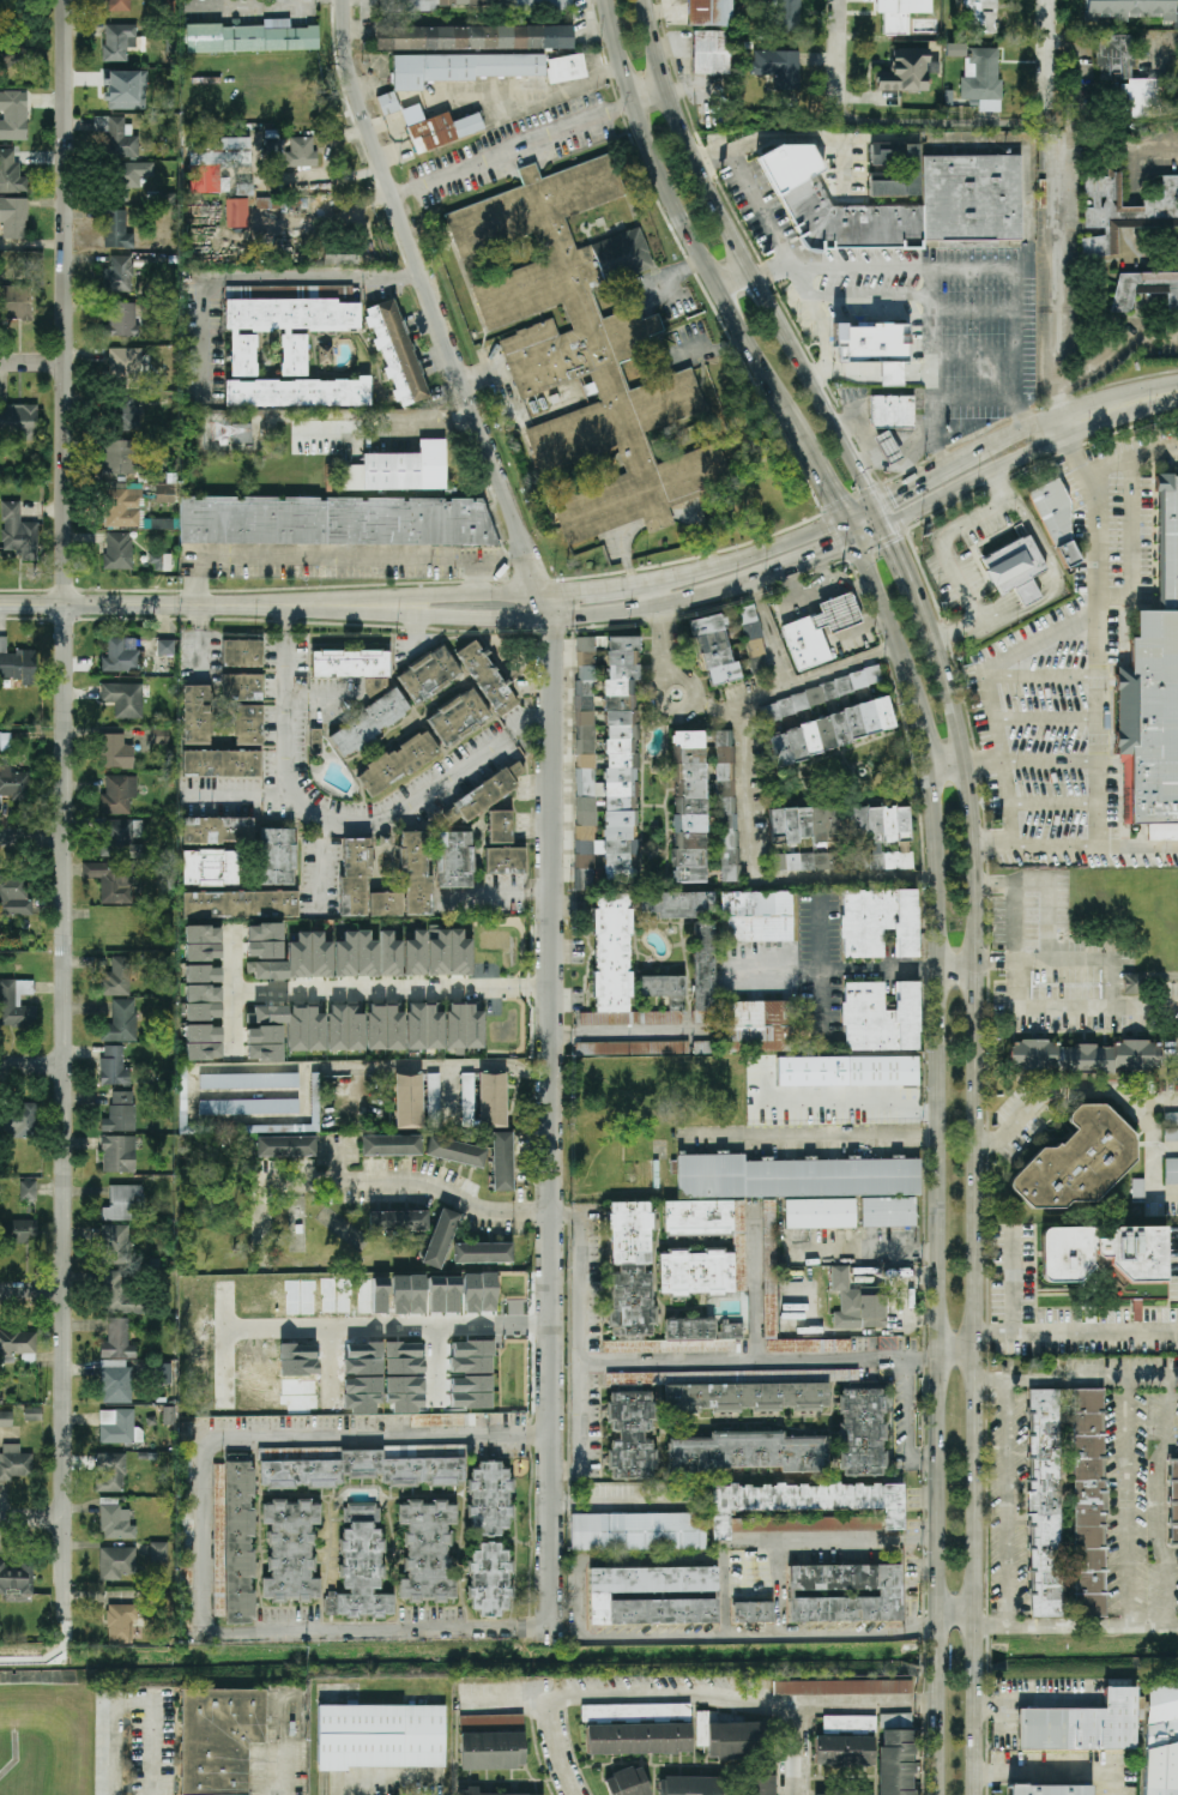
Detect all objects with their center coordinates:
building: (503, 4)
building: (119, 5)
building: (411, 5)
building: (1129, 10)
building: (709, 12)
building: (899, 14)
building: (977, 14)
building: (789, 16)
road: (591, 25)
building: (250, 37)
building: (473, 37)
building: (120, 42)
building: (955, 50)
building: (13, 52)
road: (1047, 52)
building: (711, 53)
road: (839, 55)
building: (778, 67)
building: (463, 68)
building: (566, 68)
building: (906, 71)
building: (1126, 78)
building: (983, 79)
building: (126, 90)
road: (556, 94)
road: (650, 95)
building: (387, 103)
building: (13, 115)
road: (946, 122)
building: (437, 128)
building: (117, 137)
road: (787, 140)
road: (1154, 147)
road: (512, 149)
building: (274, 152)
building: (301, 152)
building: (215, 161)
building: (11, 173)
building: (134, 174)
building: (963, 197)
building: (296, 206)
building: (1125, 210)
building: (237, 213)
building: (13, 217)
building: (116, 230)
building: (338, 255)
road: (744, 259)
road: (708, 265)
road: (851, 270)
road: (769, 271)
building: (117, 275)
road: (266, 276)
road: (663, 276)
road: (733, 277)
building: (1144, 288)
building: (16, 302)
road: (809, 303)
road: (974, 308)
road: (928, 313)
building: (121, 320)
building: (283, 323)
road: (656, 324)
building: (582, 348)
building: (874, 348)
road: (696, 349)
road: (1114, 350)
building: (395, 353)
road: (34, 360)
building: (125, 363)
road: (833, 365)
road: (1021, 374)
road: (1058, 387)
building: (297, 392)
road: (1117, 410)
building: (892, 411)
building: (128, 416)
road: (936, 420)
building: (18, 421)
road: (409, 421)
building: (241, 433)
road: (865, 435)
road: (1011, 435)
building: (886, 446)
road: (1134, 454)
building: (122, 458)
road: (904, 462)
building: (399, 470)
road: (912, 472)
road: (923, 481)
road: (977, 483)
building: (167, 487)
traffic signals: (878, 505)
building: (122, 507)
road: (862, 512)
road: (884, 518)
traffic signals: (845, 519)
building: (336, 520)
building: (1056, 524)
building: (18, 531)
traffic signals: (890, 532)
road: (874, 538)
road: (1131, 541)
traffic signals: (857, 544)
building: (1167, 546)
building: (117, 550)
road: (342, 555)
road: (742, 556)
road: (818, 558)
road: (948, 559)
building: (159, 562)
road: (901, 564)
building: (1014, 568)
road: (1052, 573)
road: (475, 574)
road: (592, 586)
road: (418, 594)
road: (144, 606)
road: (537, 616)
road: (289, 619)
road: (667, 625)
building: (750, 631)
building: (818, 631)
road: (771, 634)
road: (1049, 637)
building: (165, 647)
building: (714, 651)
building: (242, 653)
building: (121, 655)
building: (16, 664)
building: (350, 664)
building: (759, 664)
building: (457, 676)
road: (1049, 676)
parking lot: (1069, 676)
road: (696, 685)
road: (796, 685)
fountain: (677, 697)
building: (122, 698)
building: (244, 706)
building: (768, 711)
building: (197, 715)
building: (458, 717)
road: (999, 718)
road: (1051, 718)
building: (1148, 719)
road: (1101, 721)
building: (369, 723)
road: (531, 727)
building: (829, 731)
building: (5, 736)
building: (316, 742)
building: (115, 752)
road: (1055, 761)
building: (397, 763)
building: (221, 764)
road: (986, 765)
road: (948, 770)
building: (14, 782)
building: (117, 795)
road: (550, 796)
building: (481, 797)
road: (1013, 802)
road: (1057, 803)
building: (726, 806)
building: (688, 807)
road: (66, 808)
road: (331, 820)
building: (803, 824)
building: (500, 827)
building: (217, 831)
building: (585, 833)
building: (116, 837)
building: (904, 838)
road: (32, 839)
road: (1075, 844)
building: (276, 856)
building: (454, 860)
road: (319, 861)
building: (505, 861)
building: (802, 861)
building: (210, 868)
building: (415, 874)
building: (355, 875)
building: (110, 880)
road: (765, 881)
road: (1011, 885)
building: (16, 898)
building: (386, 904)
building: (678, 904)
building: (238, 905)
building: (755, 916)
building: (878, 922)
road: (1050, 922)
building: (264, 941)
building: (201, 944)
road: (1015, 946)
building: (449, 953)
building: (389, 954)
building: (415, 954)
building: (309, 956)
building: (356, 956)
road: (1044, 960)
road: (834, 969)
building: (266, 970)
road: (821, 970)
road: (955, 970)
building: (623, 971)
building: (703, 972)
building: (201, 974)
building: (115, 977)
road: (1120, 977)
road: (1131, 977)
road: (1159, 977)
road: (1143, 981)
road: (1118, 982)
building: (1131, 983)
road: (1120, 986)
road: (1131, 986)
road: (391, 989)
road: (232, 996)
building: (12, 999)
building: (201, 1004)
road: (1097, 1006)
building: (266, 1016)
building: (881, 1016)
building: (121, 1020)
building: (385, 1026)
building: (424, 1026)
building: (464, 1026)
building: (756, 1026)
building: (345, 1028)
building: (306, 1029)
road: (626, 1031)
building: (203, 1042)
building: (264, 1043)
building: (632, 1048)
building: (1032, 1054)
building: (1136, 1054)
building: (1085, 1060)
building: (113, 1065)
road: (439, 1065)
road: (31, 1066)
building: (882, 1070)
road: (938, 1071)
building: (248, 1082)
road: (1107, 1090)
building: (433, 1095)
building: (467, 1100)
building: (493, 1100)
road: (1158, 1100)
building: (409, 1101)
building: (248, 1107)
building: (120, 1113)
road: (973, 1113)
building: (19, 1122)
building: (1171, 1126)
road: (815, 1138)
building: (285, 1145)
building: (391, 1145)
road: (1166, 1150)
building: (455, 1151)
building: (117, 1154)
building: (1076, 1161)
building: (501, 1162)
building: (1171, 1170)
road: (272, 1183)
road: (431, 1186)
building: (28, 1188)
building: (791, 1192)
building: (121, 1204)
road: (567, 1210)
building: (398, 1222)
building: (18, 1231)
building: (440, 1239)
building: (114, 1242)
road: (882, 1247)
building: (483, 1253)
building: (630, 1271)
building: (696, 1272)
road: (754, 1284)
road: (1017, 1288)
road: (32, 1289)
building: (479, 1293)
building: (443, 1294)
building: (416, 1295)
building: (120, 1296)
building: (857, 1302)
road: (388, 1324)
road: (1075, 1333)
building: (702, 1335)
road: (581, 1339)
building: (116, 1342)
building: (18, 1347)
building: (472, 1349)
road: (955, 1353)
road: (876, 1354)
road: (900, 1356)
road: (857, 1357)
building: (403, 1359)
road: (923, 1359)
road: (717, 1360)
road: (880, 1362)
building: (164, 1373)
road: (1075, 1381)
building: (115, 1384)
building: (405, 1393)
building: (729, 1393)
road: (907, 1407)
building: (5, 1418)
building: (442, 1420)
building: (116, 1427)
building: (862, 1432)
road: (520, 1434)
building: (630, 1435)
building: (745, 1452)
road: (923, 1457)
building: (13, 1463)
building: (351, 1468)
building: (108, 1471)
building: (489, 1498)
building: (802, 1501)
road: (1008, 1501)
road: (1126, 1501)
road: (1160, 1501)
building: (1173, 1501)
building: (1067, 1502)
road: (32, 1516)
building: (114, 1519)
building: (811, 1522)
building: (638, 1531)
building: (235, 1542)
road: (721, 1548)
building: (290, 1550)
building: (157, 1552)
road: (201, 1552)
building: (427, 1552)
building: (116, 1562)
building: (361, 1566)
building: (16, 1578)
building: (490, 1579)
road: (779, 1583)
road: (724, 1586)
building: (844, 1592)
building: (599, 1596)
building: (753, 1612)
road: (953, 1619)
road: (1074, 1621)
building: (122, 1624)
road: (534, 1625)
road: (743, 1625)
road: (937, 1656)
road: (971, 1660)
building: (842, 1687)
road: (627, 1697)
road: (132, 1703)
road: (1031, 1703)
road: (863, 1706)
building: (1081, 1724)
building: (638, 1728)
road: (937, 1735)
building: (380, 1736)
road: (973, 1736)
building: (218, 1739)
building: (729, 1739)
building: (1161, 1740)
building: (845, 1741)
building: (491, 1742)
road: (555, 1748)
road: (791, 1751)
building: (896, 1761)
road: (1050, 1770)
road: (376, 1782)
building: (628, 1782)
building: (757, 1784)
building: (694, 1785)
building: (469, 1790)
building: (1050, 1790)
building: (846, 1794)

